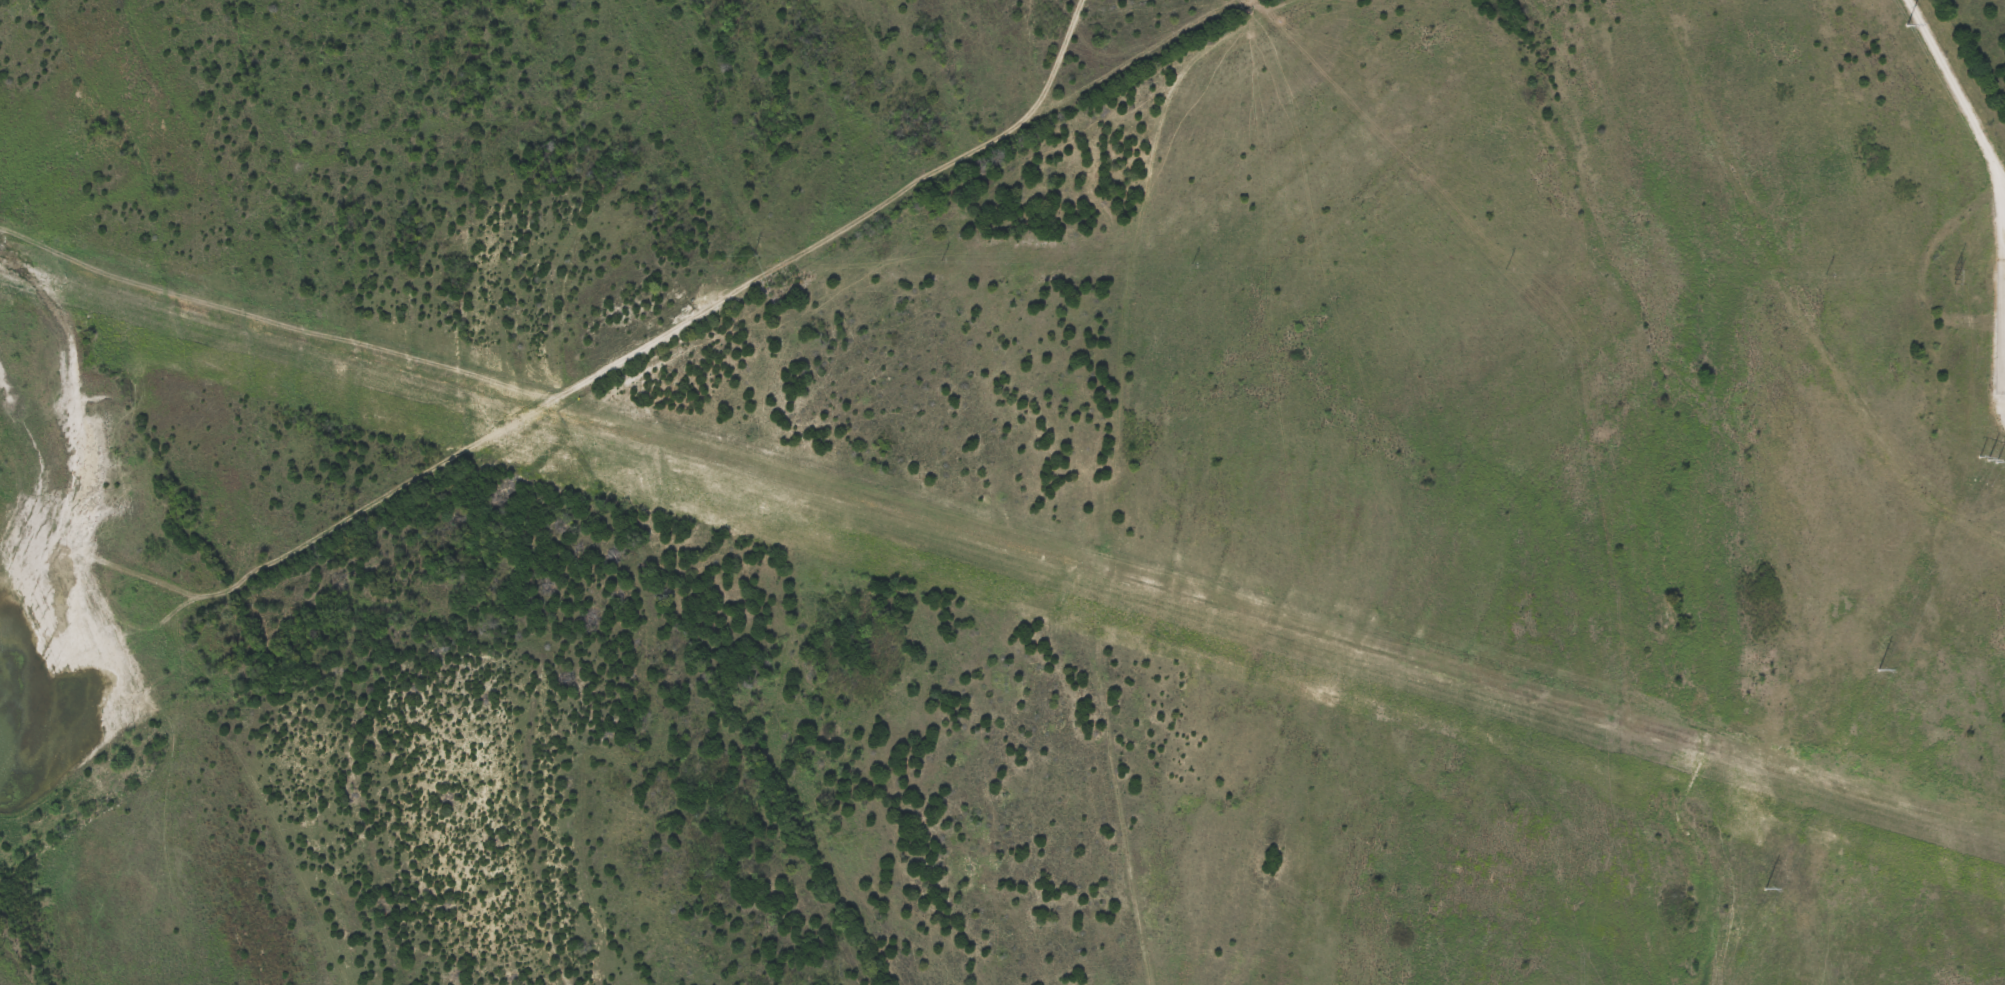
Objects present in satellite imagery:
power substation: (2000, 318)
road: (626, 413)

